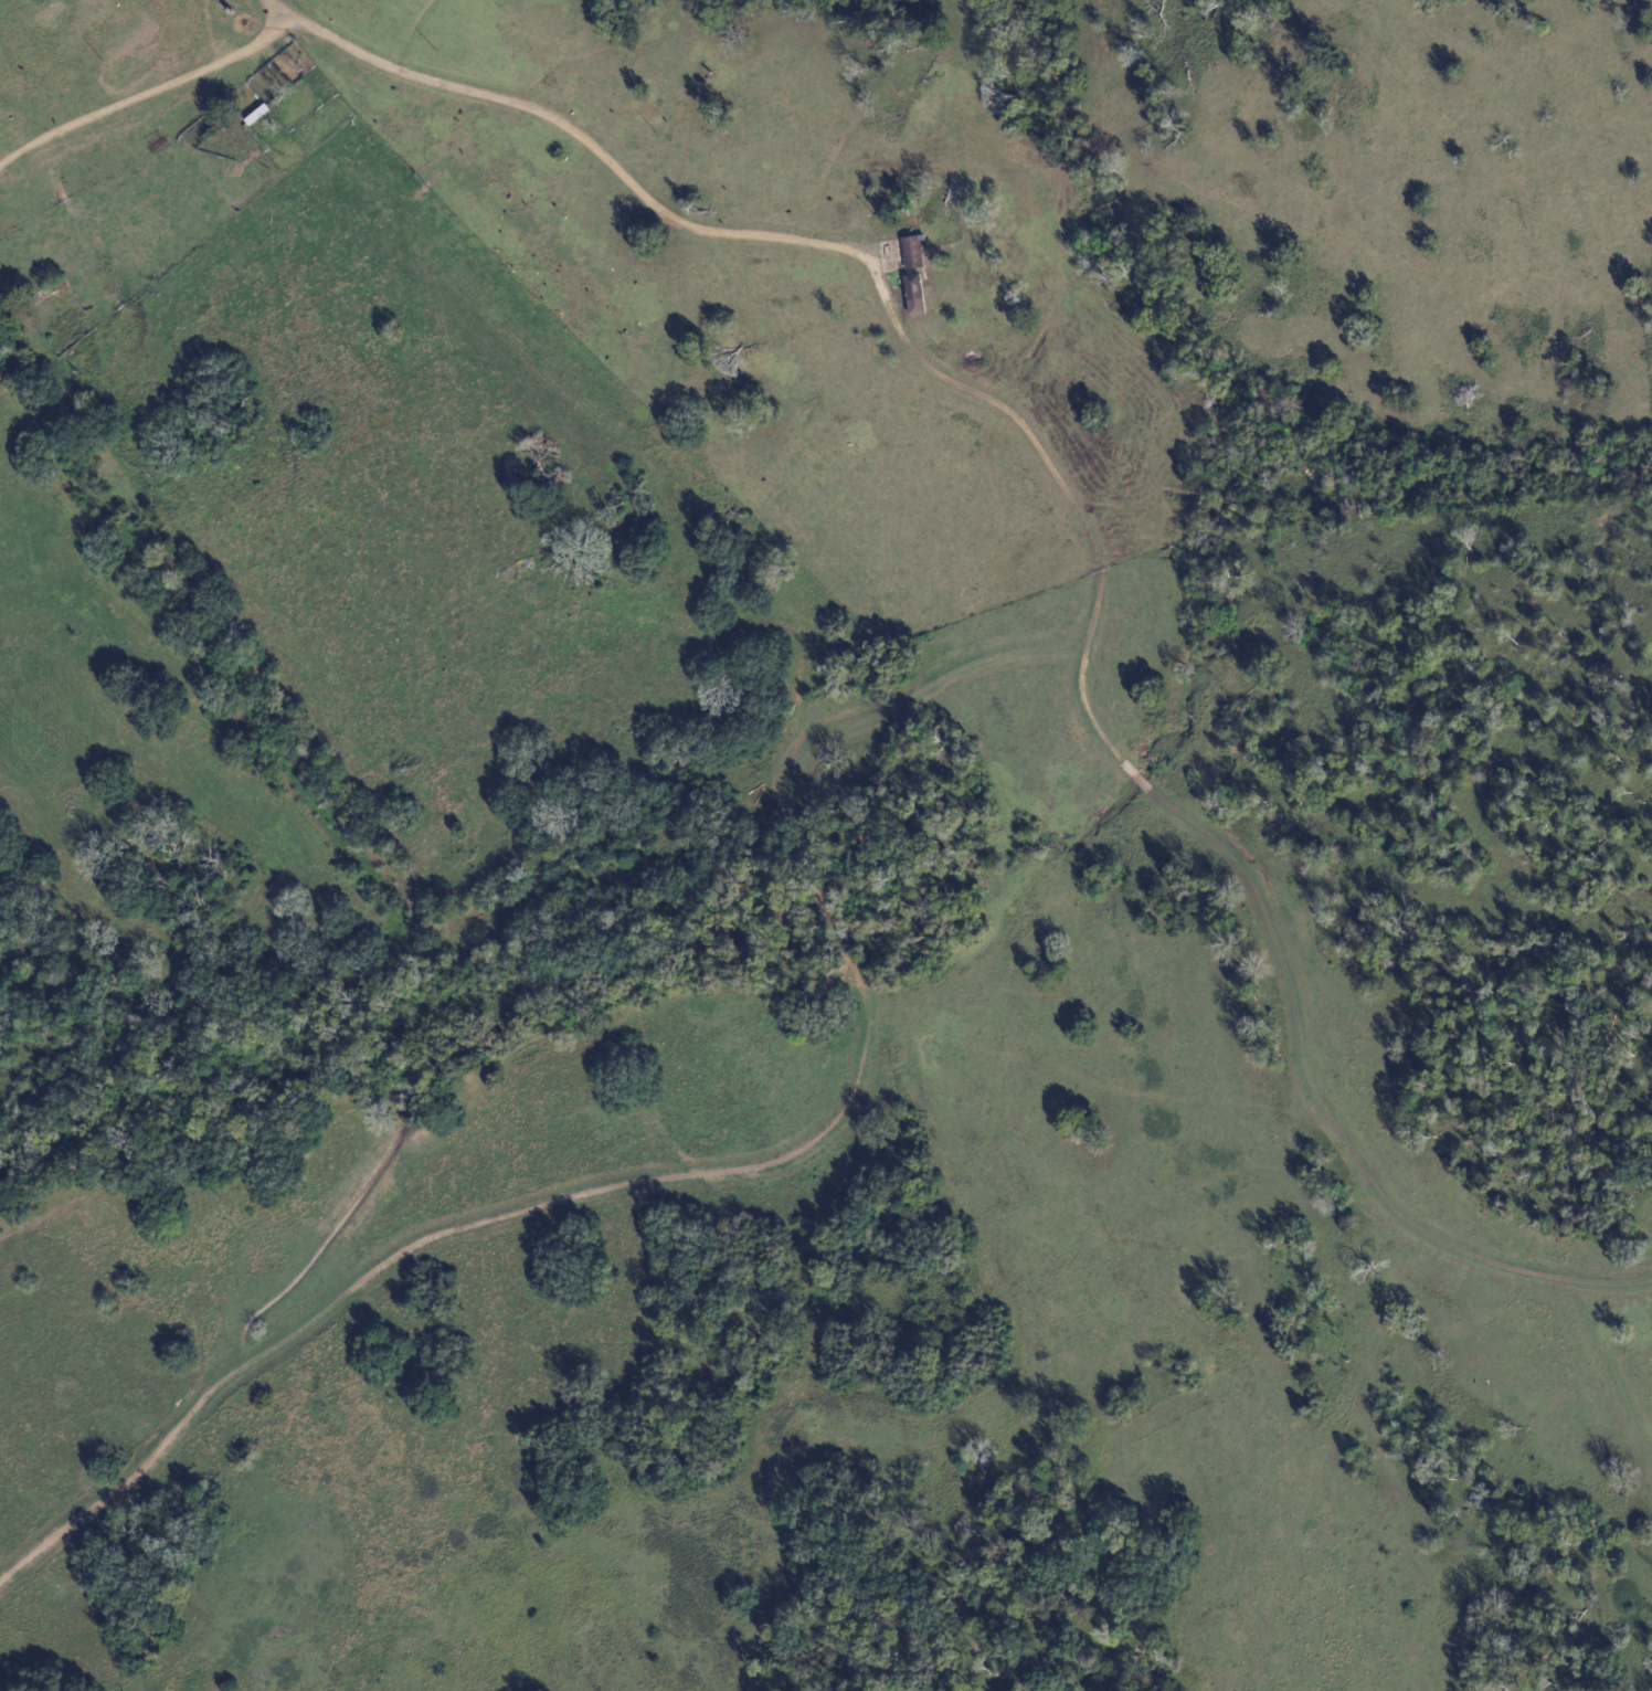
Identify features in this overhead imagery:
road: (280, 6)
road: (441, 83)
building: (914, 253)
building: (917, 294)

